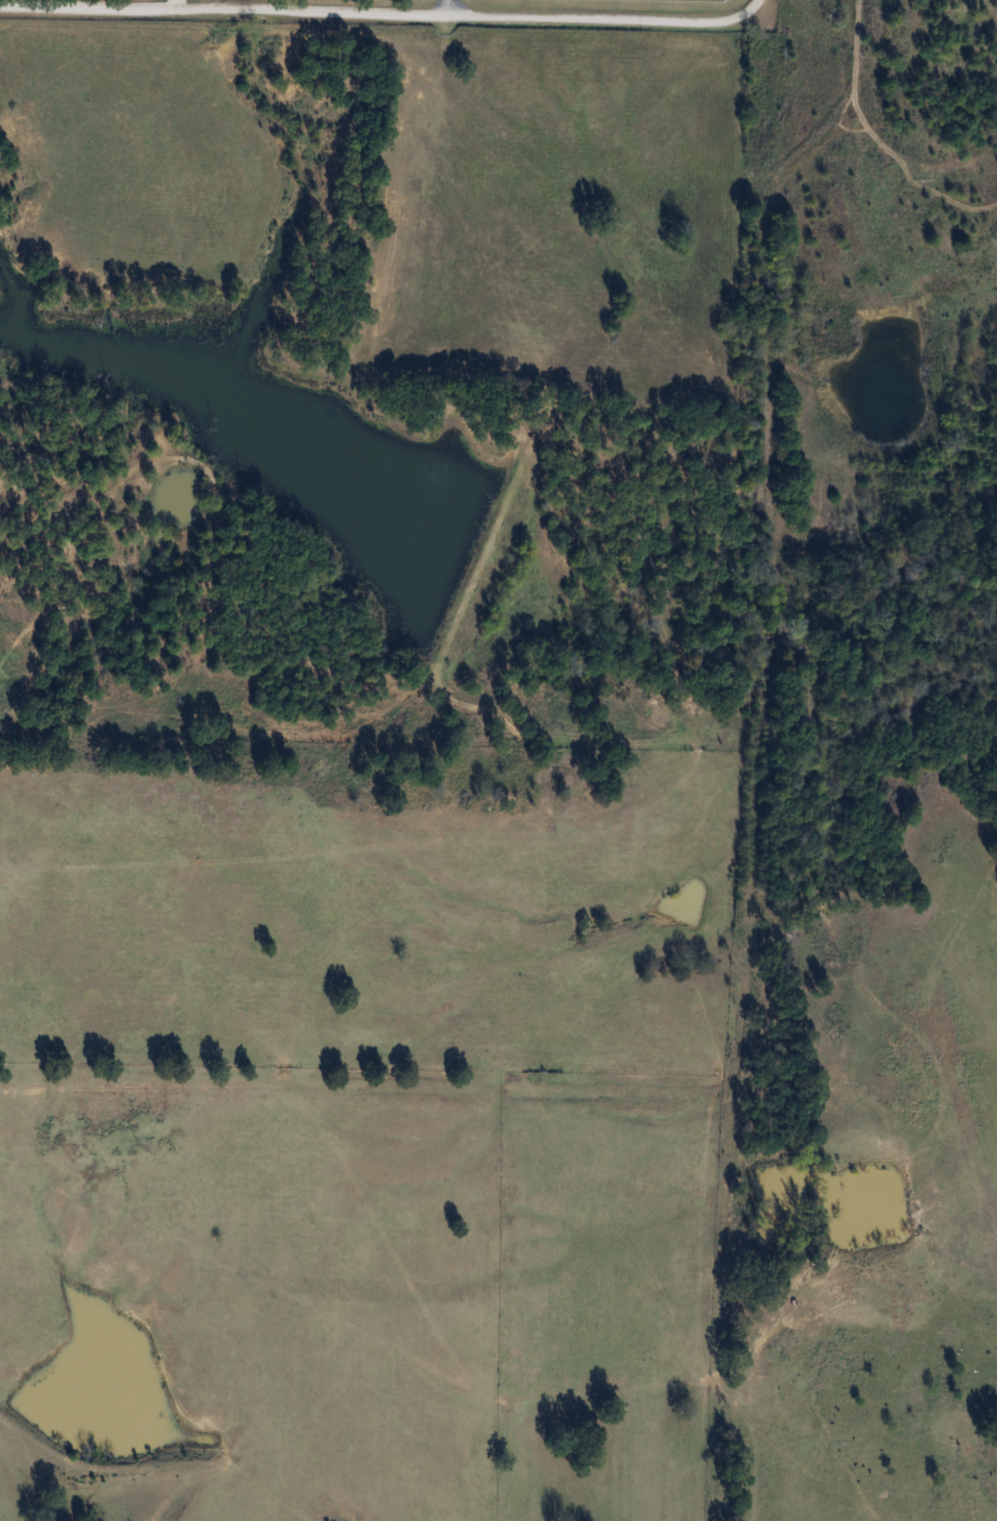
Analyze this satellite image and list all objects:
road: (445, 7)
road: (382, 13)

